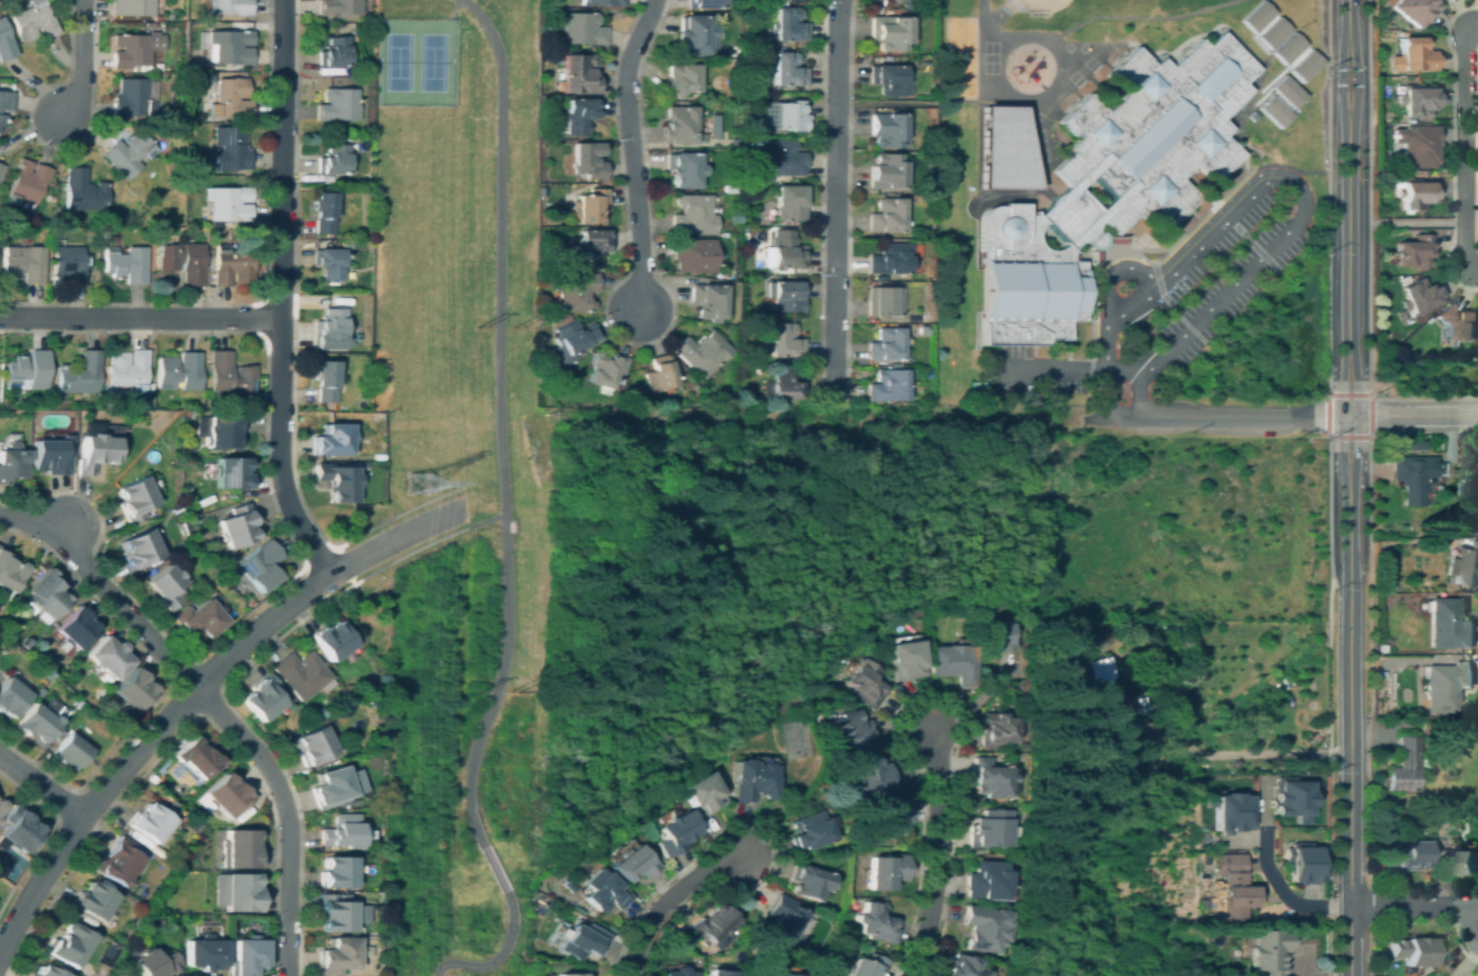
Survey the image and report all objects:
building: (899, 1)
building: (602, 2)
building: (886, 2)
building: (704, 3)
park: (1074, 4)
building: (340, 6)
building: (134, 7)
building: (230, 7)
road: (452, 9)
building: (878, 10)
building: (1416, 10)
building: (1034, 13)
road: (979, 14)
building: (1255, 15)
road: (1107, 16)
road: (1347, 17)
building: (33, 21)
building: (150, 24)
building: (201, 24)
building: (788, 25)
building: (582, 28)
building: (890, 31)
building: (1271, 31)
building: (761, 33)
building: (694, 34)
building: (5, 44)
park: (1066, 46)
building: (1286, 46)
building: (230, 47)
road: (1066, 49)
building: (136, 50)
building: (335, 52)
building: (1413, 55)
park: (989, 57)
road: (82, 59)
park: (396, 60)
park: (431, 61)
park: (1089, 63)
building: (1302, 64)
building: (787, 69)
building: (579, 73)
road: (1355, 74)
road: (1339, 75)
park: (1074, 77)
building: (887, 79)
building: (679, 80)
road: (1055, 89)
building: (1285, 90)
building: (132, 98)
building: (231, 98)
building: (6, 100)
building: (1418, 101)
road: (944, 102)
building: (338, 105)
building: (1273, 110)
building: (579, 114)
building: (1250, 114)
building: (790, 115)
building: (2, 120)
building: (679, 124)
building: (887, 128)
park: (1037, 144)
building: (1416, 145)
road: (1465, 146)
building: (230, 149)
building: (1002, 149)
road: (632, 153)
building: (129, 154)
building: (334, 159)
building: (781, 159)
building: (588, 160)
building: (1, 169)
building: (683, 169)
building: (886, 171)
building: (327, 178)
building: (28, 182)
building: (1109, 182)
building: (730, 189)
building: (84, 191)
building: (1416, 193)
road: (836, 194)
building: (51, 198)
building: (789, 202)
building: (229, 203)
park: (417, 205)
building: (589, 206)
building: (325, 212)
building: (692, 215)
building: (886, 216)
road: (1214, 216)
road: (1414, 222)
building: (188, 224)
building: (724, 234)
road: (1348, 234)
building: (347, 243)
building: (593, 246)
road: (1195, 250)
building: (1414, 251)
building: (785, 253)
building: (692, 255)
building: (890, 258)
building: (718, 260)
building: (183, 261)
building: (24, 263)
building: (330, 263)
building: (127, 264)
building: (68, 265)
building: (232, 266)
road: (1473, 266)
building: (880, 277)
road: (1106, 277)
flagpole: (1121, 287)
building: (575, 290)
road: (280, 293)
building: (786, 295)
road: (1222, 296)
building: (1420, 296)
parking lot: (1165, 298)
building: (707, 300)
building: (884, 301)
road: (1363, 301)
road: (1332, 302)
road: (140, 317)
building: (558, 318)
building: (1459, 323)
power tower: (478, 324)
power tower: (516, 325)
building: (329, 329)
building: (924, 329)
building: (573, 337)
building: (785, 341)
building: (886, 344)
building: (701, 352)
building: (130, 369)
building: (605, 369)
building: (28, 370)
building: (180, 371)
road: (1070, 371)
building: (659, 373)
building: (81, 374)
building: (230, 375)
road: (1106, 378)
building: (326, 380)
building: (887, 385)
building: (783, 386)
building: (110, 395)
road: (1341, 413)
road: (1355, 413)
road: (1348, 415)
road: (1416, 415)
road: (1231, 416)
road: (500, 421)
building: (222, 431)
building: (333, 439)
building: (1409, 445)
building: (95, 451)
building: (52, 454)
building: (379, 456)
building: (12, 461)
building: (231, 473)
building: (1414, 477)
power tower: (413, 480)
building: (338, 481)
building: (135, 498)
building: (363, 500)
park: (346, 519)
road: (476, 523)
building: (237, 525)
road: (65, 531)
road: (1348, 538)
building: (139, 548)
building: (260, 565)
building: (1465, 566)
building: (1389, 573)
building: (9, 574)
building: (1385, 581)
building: (167, 586)
building: (45, 596)
park: (371, 613)
building: (201, 618)
building: (1450, 624)
building: (75, 628)
building: (993, 636)
building: (333, 640)
building: (26, 642)
building: (1383, 648)
building: (109, 656)
building: (903, 659)
building: (952, 662)
building: (302, 674)
building: (864, 683)
building: (1447, 685)
building: (133, 689)
power tower: (511, 689)
power tower: (475, 690)
road: (192, 693)
building: (1099, 696)
building: (10, 697)
building: (263, 697)
building: (76, 701)
road: (212, 707)
building: (38, 722)
building: (1425, 725)
building: (991, 729)
building: (847, 730)
building: (380, 734)
building: (312, 745)
building: (70, 751)
road: (1237, 754)
building: (202, 760)
building: (1405, 766)
building: (870, 775)
building: (987, 778)
building: (751, 780)
road: (42, 785)
building: (332, 785)
road: (1353, 788)
building: (700, 793)
building: (226, 795)
building: (1290, 798)
building: (1, 804)
building: (170, 804)
building: (1227, 811)
building: (888, 815)
building: (149, 822)
building: (19, 828)
building: (988, 828)
building: (344, 831)
building: (807, 831)
building: (673, 832)
building: (241, 849)
road: (934, 853)
building: (1298, 853)
building: (1407, 856)
building: (1457, 860)
building: (117, 861)
building: (631, 864)
road: (493, 868)
building: (338, 871)
building: (885, 871)
road: (1271, 874)
building: (806, 881)
building: (988, 881)
building: (569, 885)
building: (1235, 886)
park: (4, 889)
building: (241, 892)
building: (605, 894)
building: (92, 900)
road: (664, 901)
road: (1415, 905)
building: (341, 913)
building: (159, 919)
building: (781, 919)
building: (877, 922)
building: (713, 923)
road: (1469, 926)
building: (988, 927)
building: (378, 930)
building: (582, 941)
building: (67, 944)
building: (114, 949)
building: (1270, 951)
building: (1413, 951)
building: (204, 952)
building: (247, 955)
building: (339, 955)
road: (497, 957)
building: (155, 962)
building: (1380, 962)
building: (868, 965)
building: (965, 967)
building: (46, 971)
building: (676, 972)
building: (722, 972)
building: (570, 974)
building: (776, 974)
building: (29, 975)

